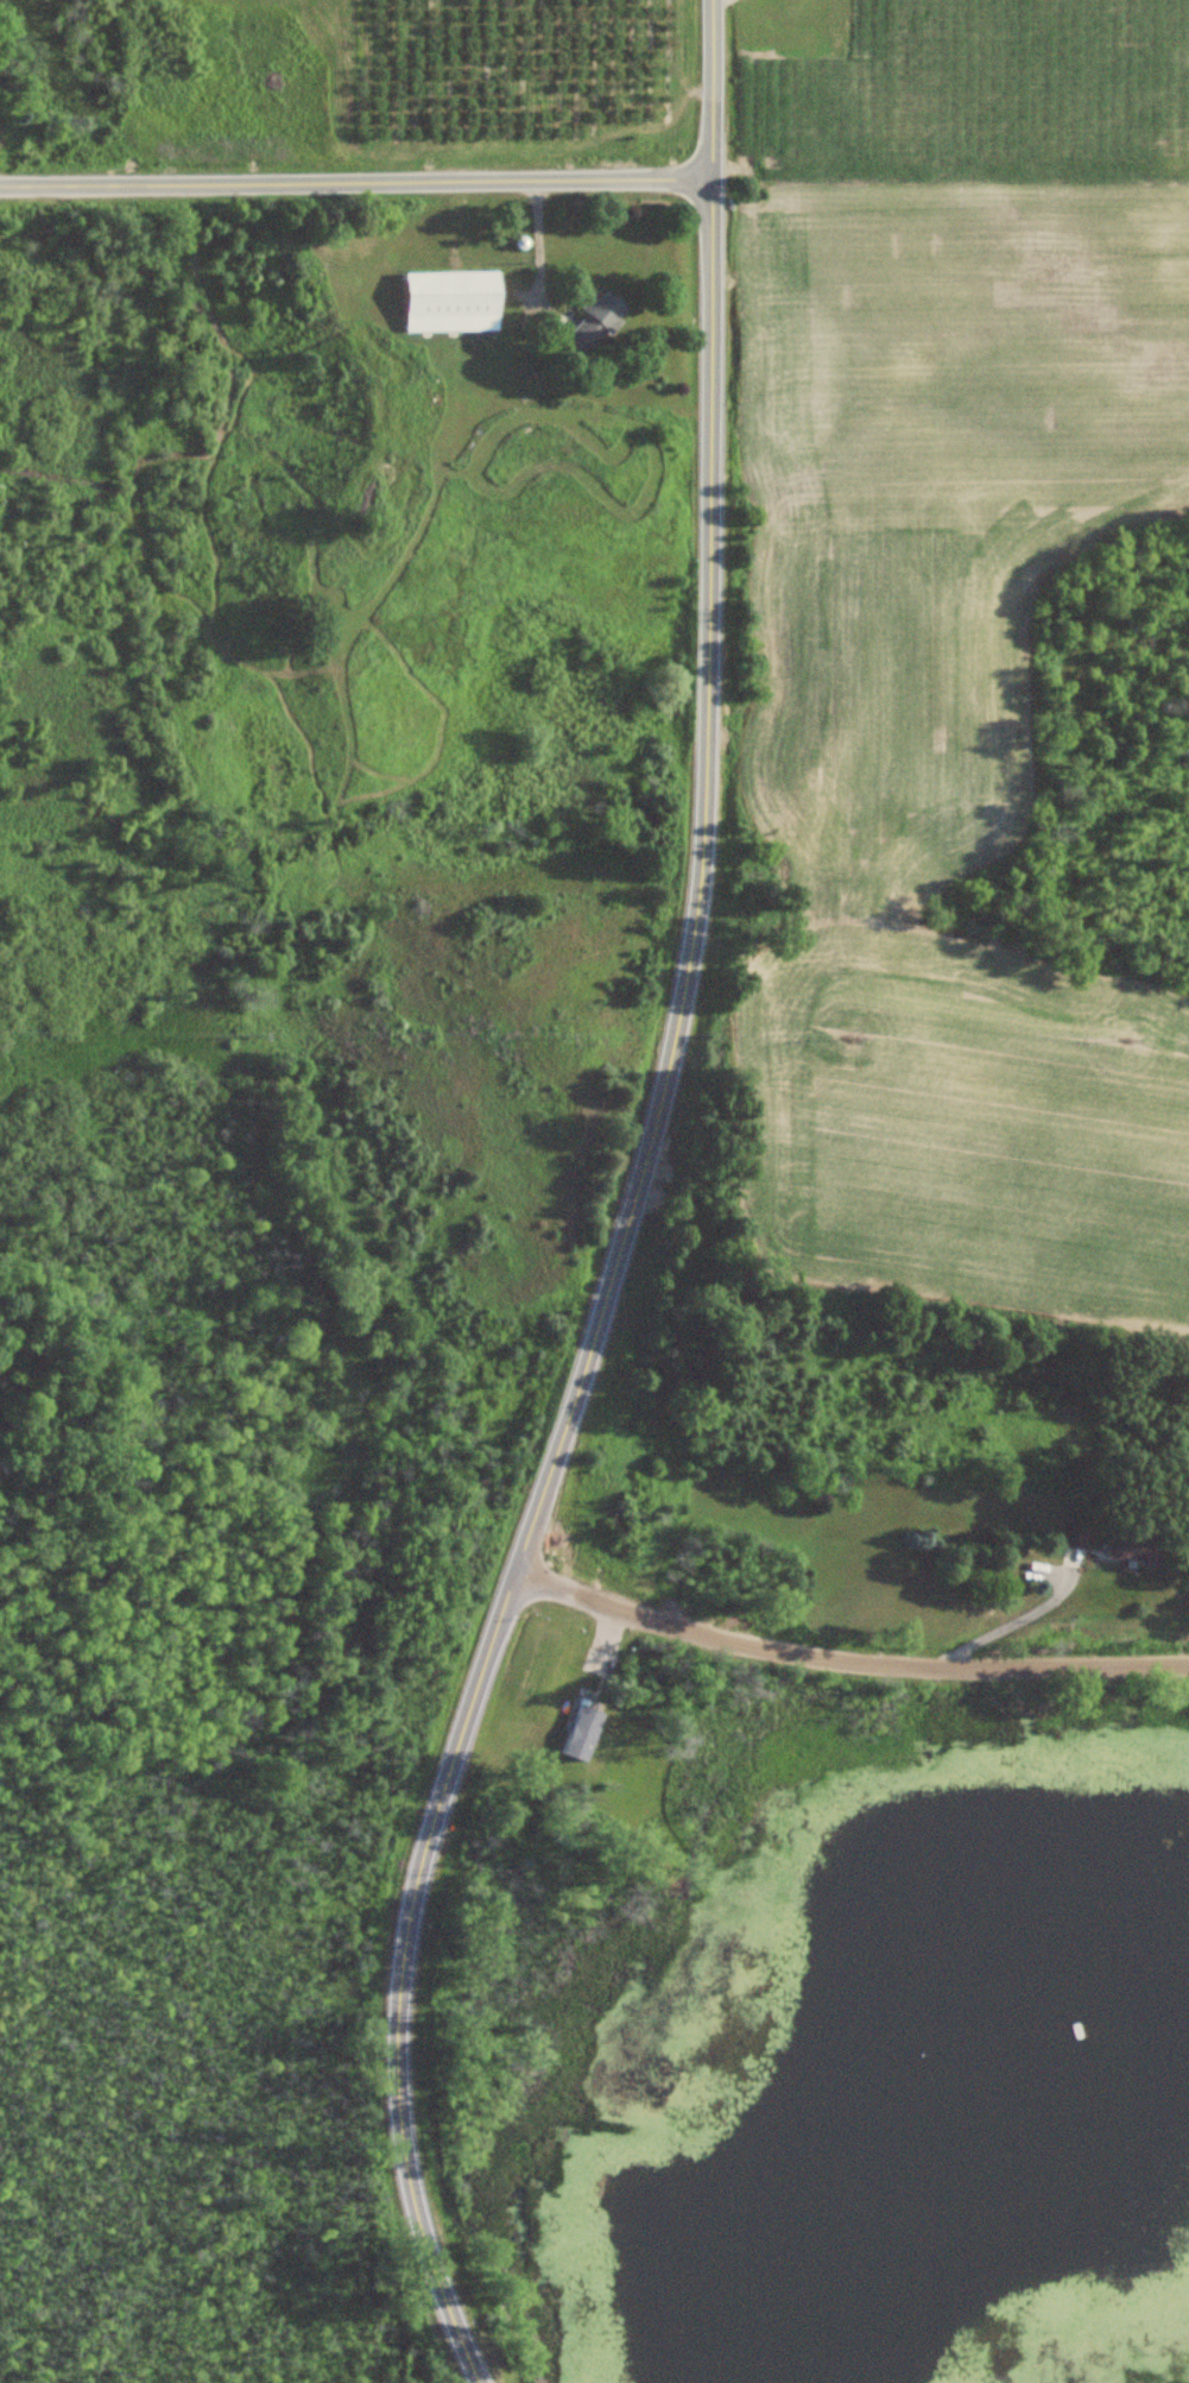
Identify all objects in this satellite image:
road: (358, 184)
road: (536, 253)
building: (451, 302)
building: (593, 323)
road: (634, 1211)
building: (1076, 1534)
building: (1132, 1547)
road: (1007, 1625)
road: (847, 1663)
building: (583, 1733)

